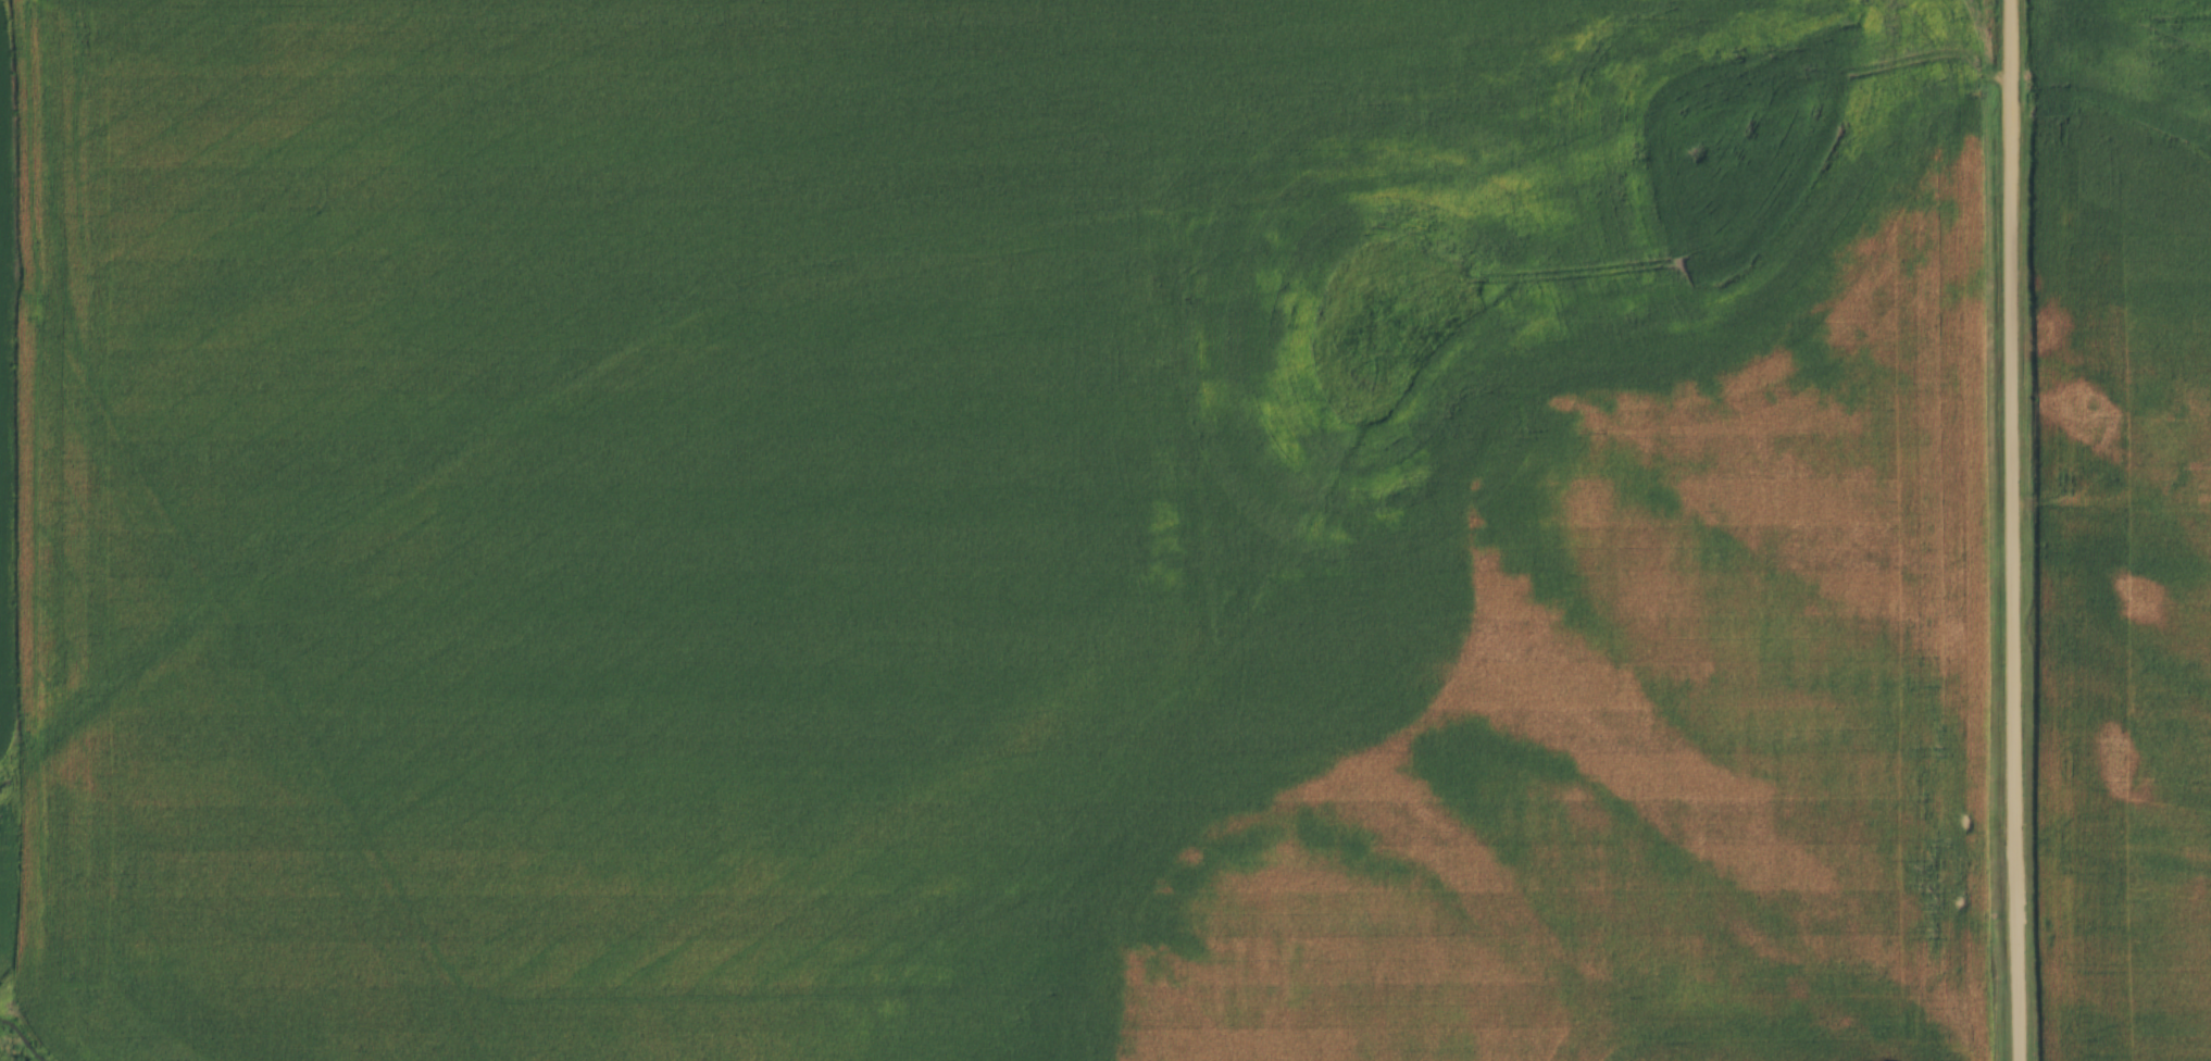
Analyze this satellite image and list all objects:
crop: (2125, 527)
road: (2013, 530)

